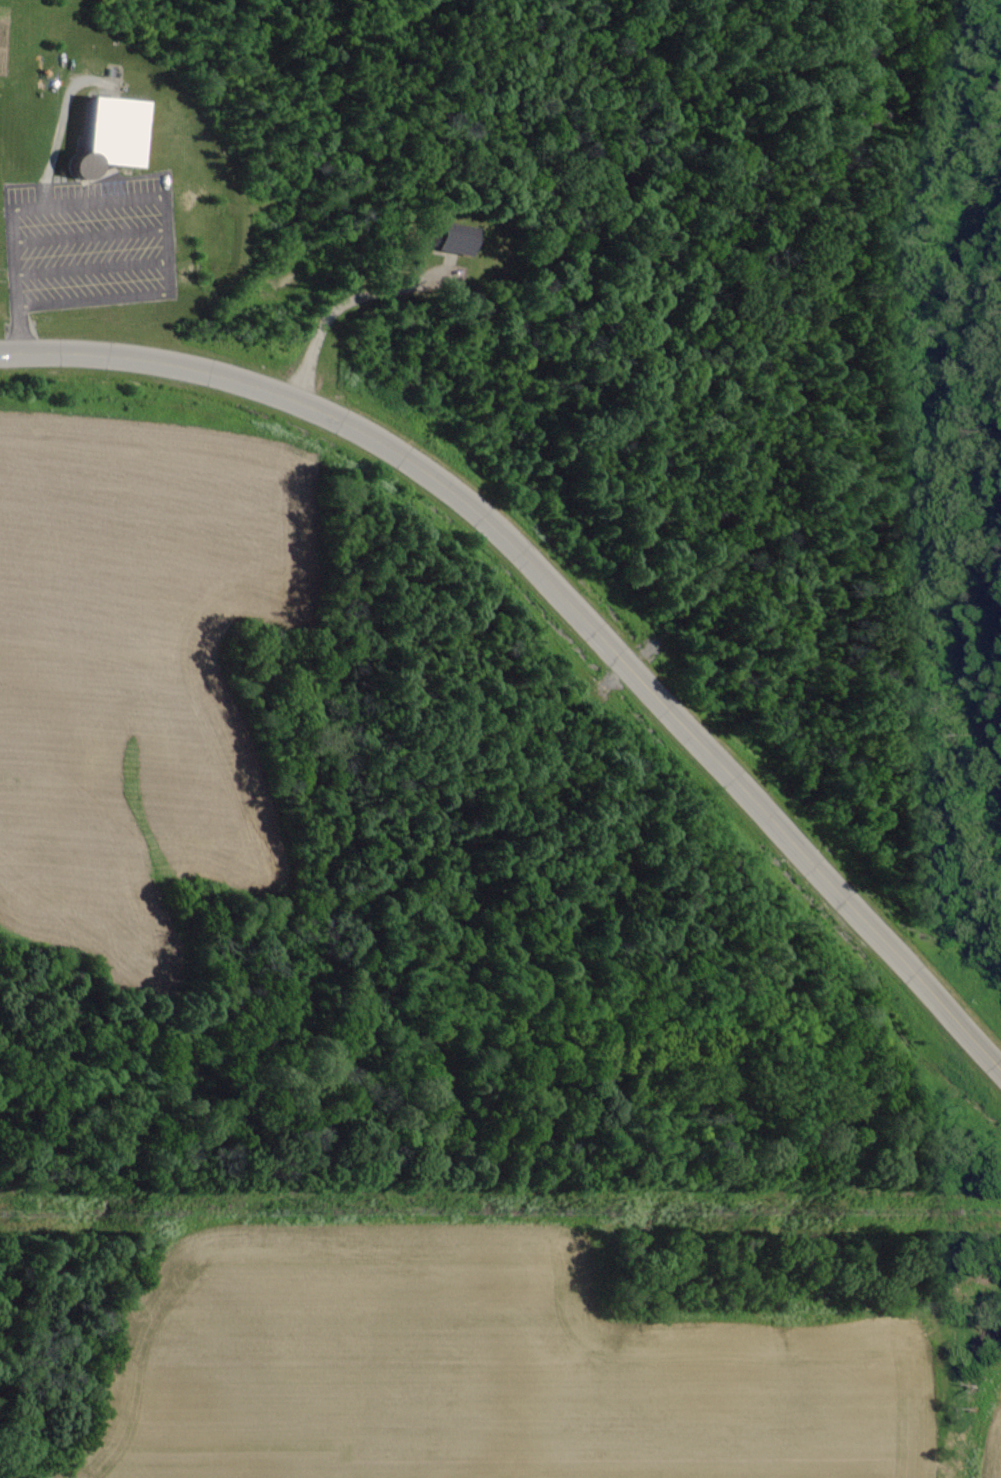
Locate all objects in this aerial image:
building: (106, 134)
building: (453, 239)
road: (167, 246)
road: (14, 280)
road: (339, 306)
road: (564, 596)

